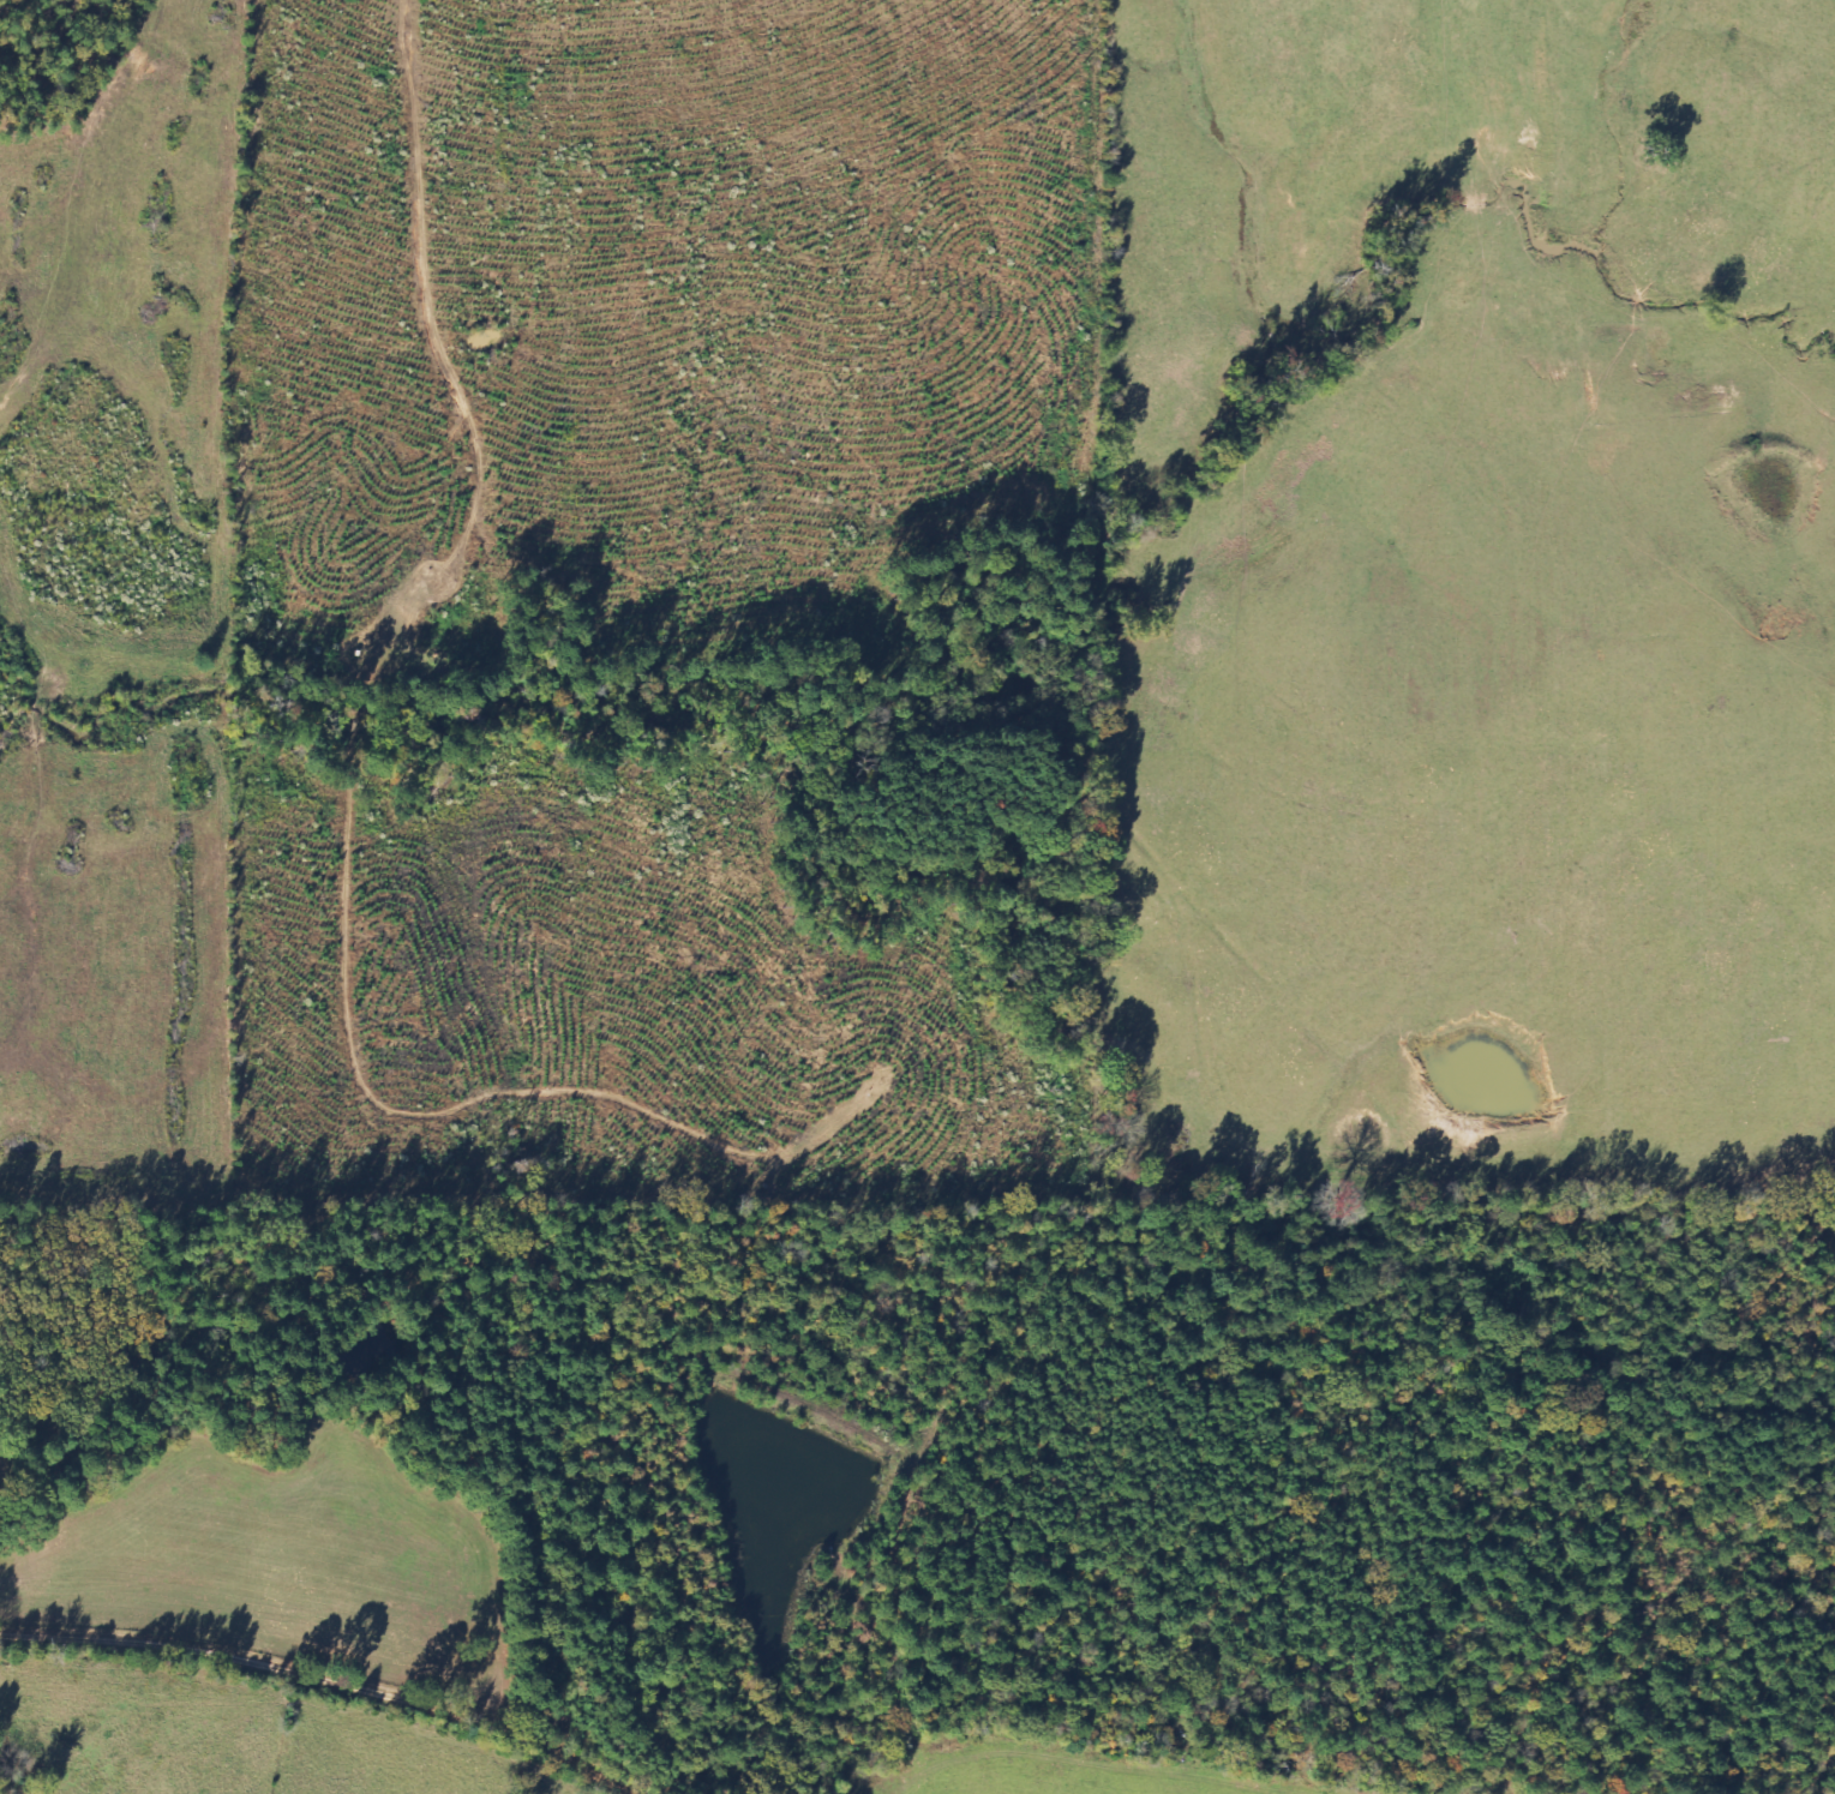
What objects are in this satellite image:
road: (328, 1681)

